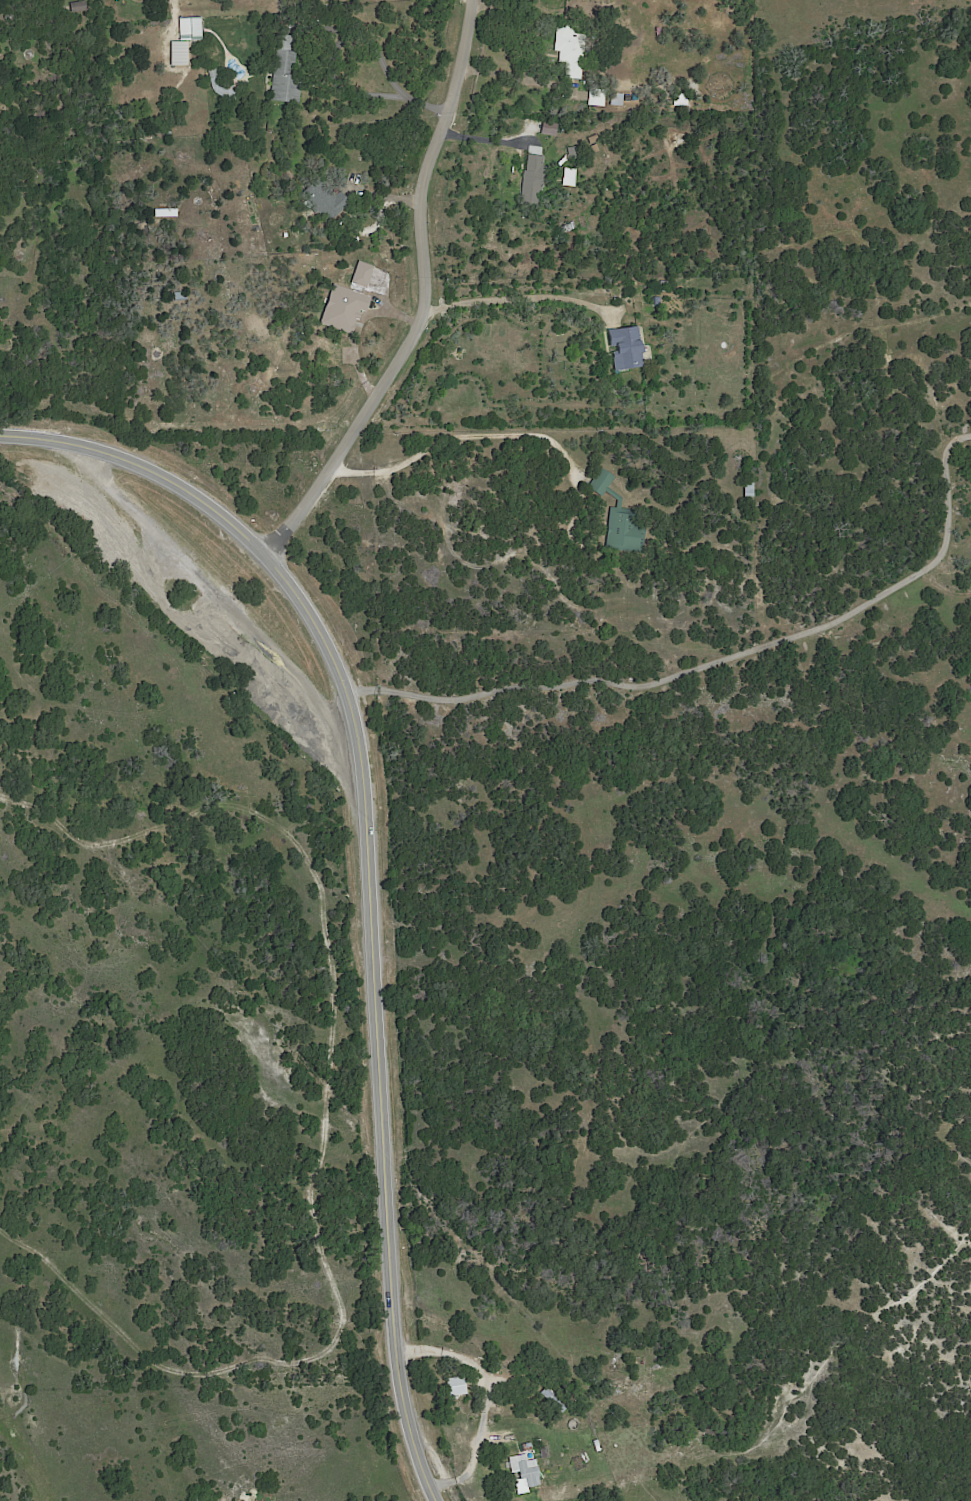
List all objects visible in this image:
building: (671, 4)
building: (78, 7)
building: (671, 10)
building: (7, 16)
building: (190, 28)
building: (571, 49)
building: (178, 52)
building: (212, 73)
building: (287, 73)
building: (598, 96)
building: (617, 99)
building: (680, 99)
building: (168, 134)
building: (532, 180)
building: (327, 199)
building: (169, 212)
building: (260, 224)
building: (531, 239)
building: (369, 276)
building: (681, 288)
building: (691, 290)
building: (181, 296)
road: (423, 297)
road: (501, 298)
building: (656, 300)
building: (346, 308)
building: (627, 348)
road: (451, 433)
building: (749, 492)
building: (622, 519)
road: (720, 658)
road: (369, 867)
building: (621, 1364)
building: (633, 1381)
building: (648, 1382)
building: (455, 1385)
road: (488, 1398)
building: (553, 1398)
building: (571, 1445)
building: (524, 1473)

